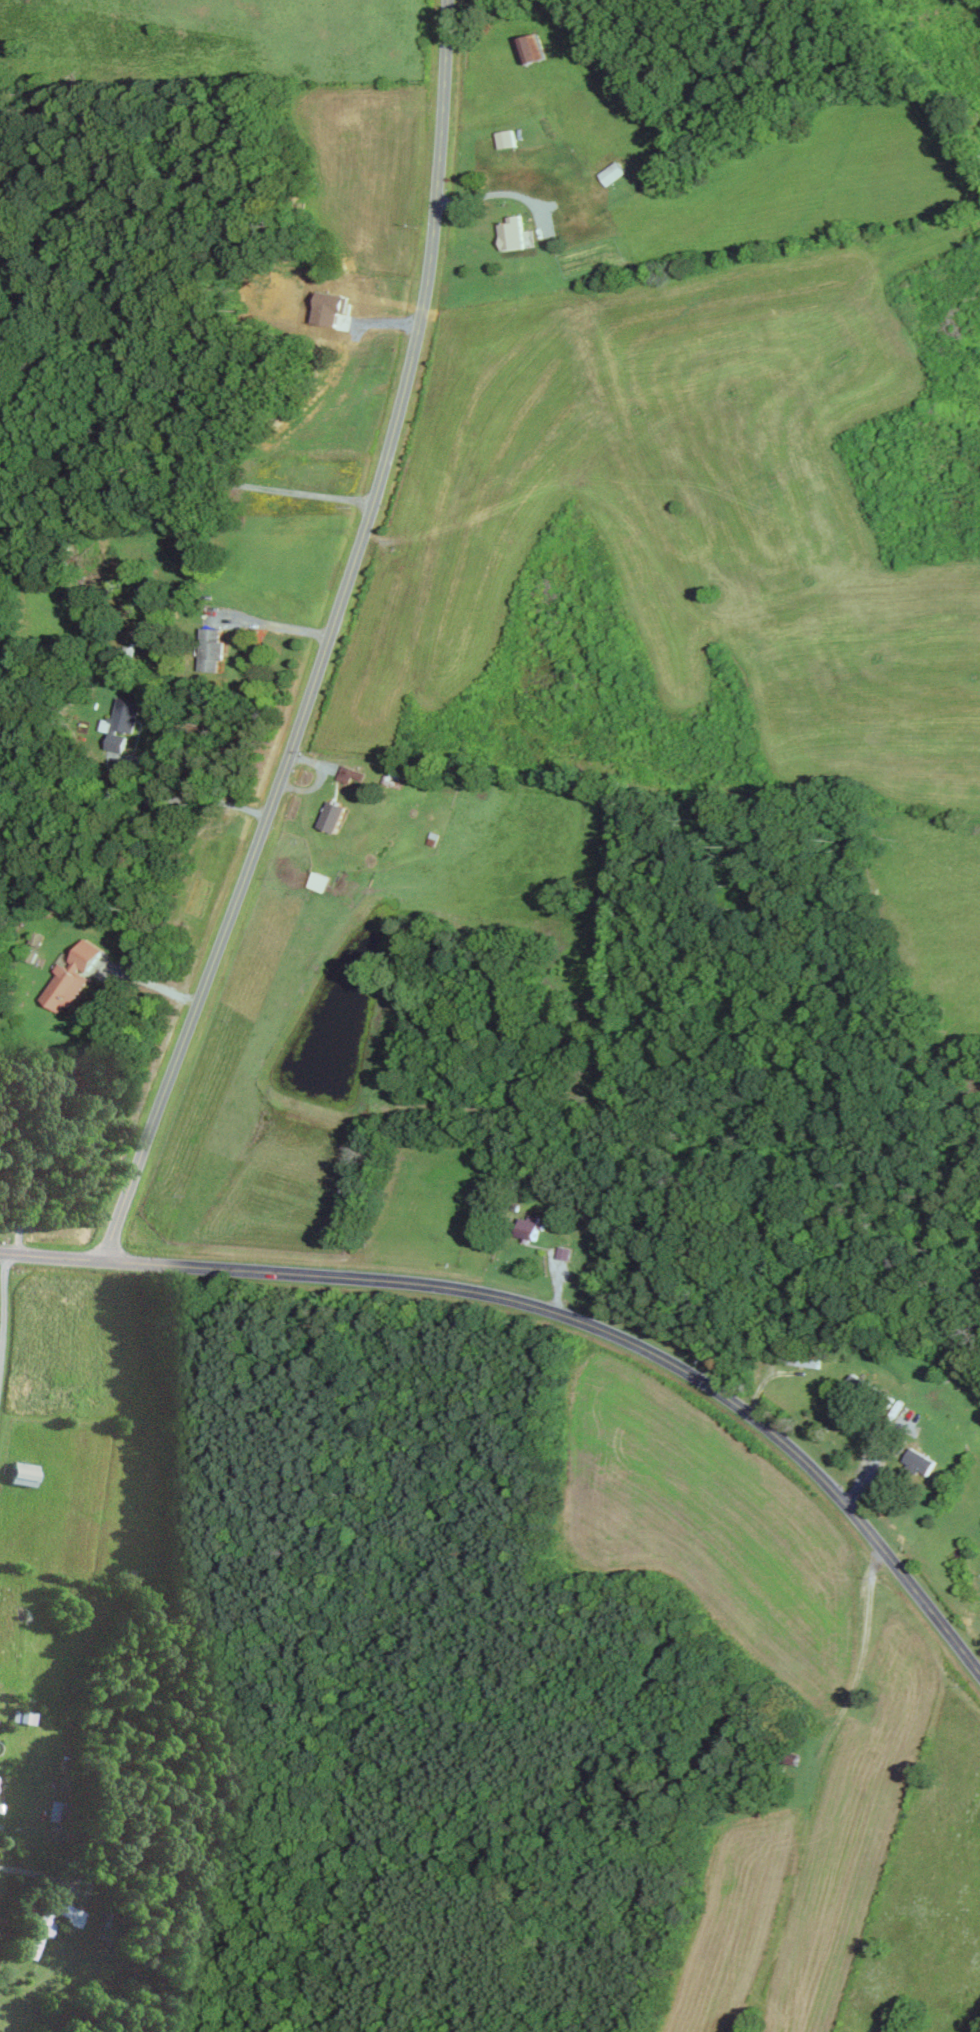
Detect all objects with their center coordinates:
building: (531, 49)
building: (506, 139)
building: (613, 173)
road: (493, 193)
building: (512, 233)
road: (187, 475)
road: (269, 623)
road: (327, 637)
building: (212, 647)
building: (122, 723)
road: (134, 756)
building: (349, 773)
building: (332, 815)
building: (319, 880)
building: (72, 976)
road: (70, 1073)
building: (529, 1226)
building: (563, 1252)
road: (559, 1312)
road: (4, 1314)
building: (919, 1461)
road: (873, 1465)
building: (23, 1473)
road: (861, 1654)
building: (24, 1716)
road: (35, 1871)
building: (71, 1913)
building: (39, 1935)

